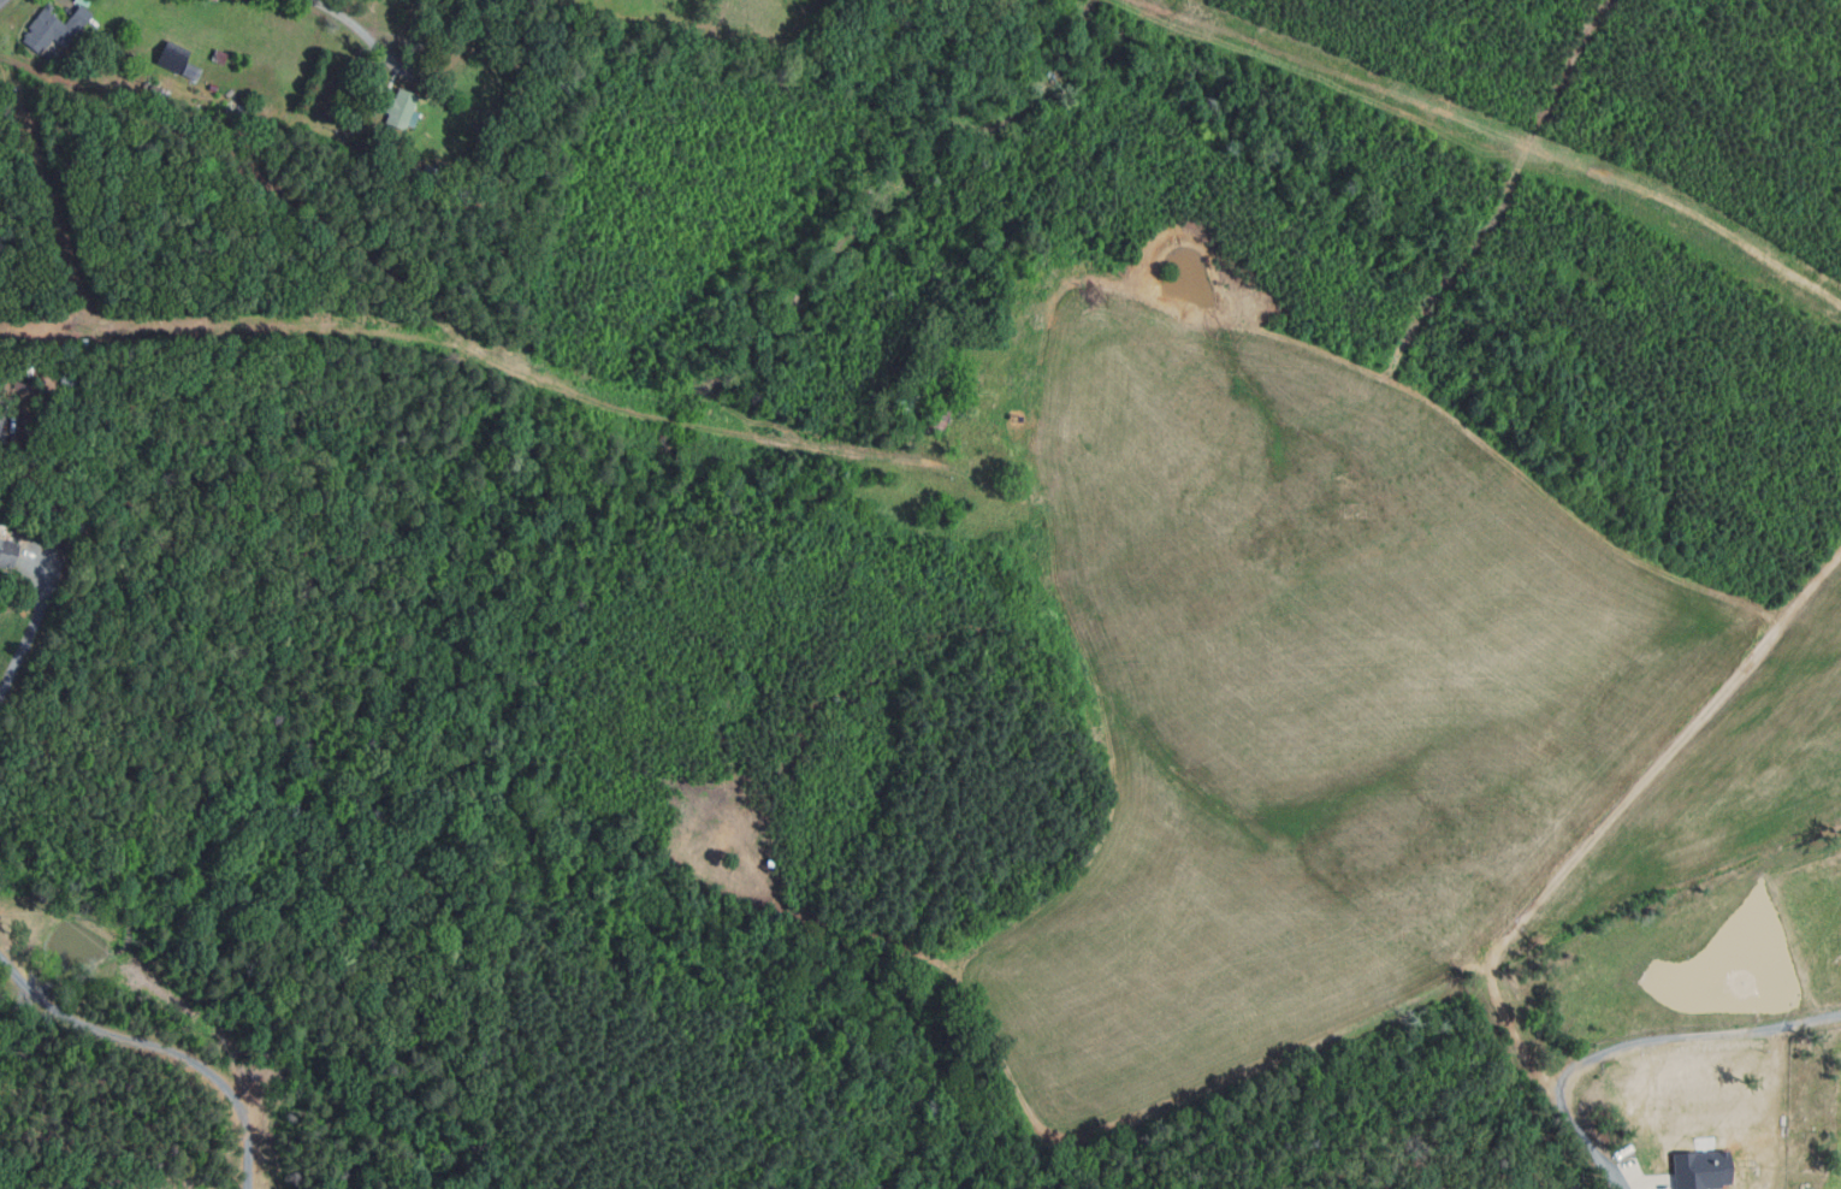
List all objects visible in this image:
building: (53, 26)
road: (357, 31)
building: (168, 57)
building: (218, 57)
building: (140, 65)
building: (189, 72)
building: (156, 91)
building: (153, 107)
building: (398, 107)
building: (224, 135)
building: (428, 178)
building: (1004, 331)
building: (19, 384)
building: (934, 420)
building: (7, 552)
road: (30, 634)
road: (1610, 817)
road: (1681, 1036)
road: (159, 1047)
road: (1590, 1149)
building: (1699, 1169)
road: (1657, 1187)

